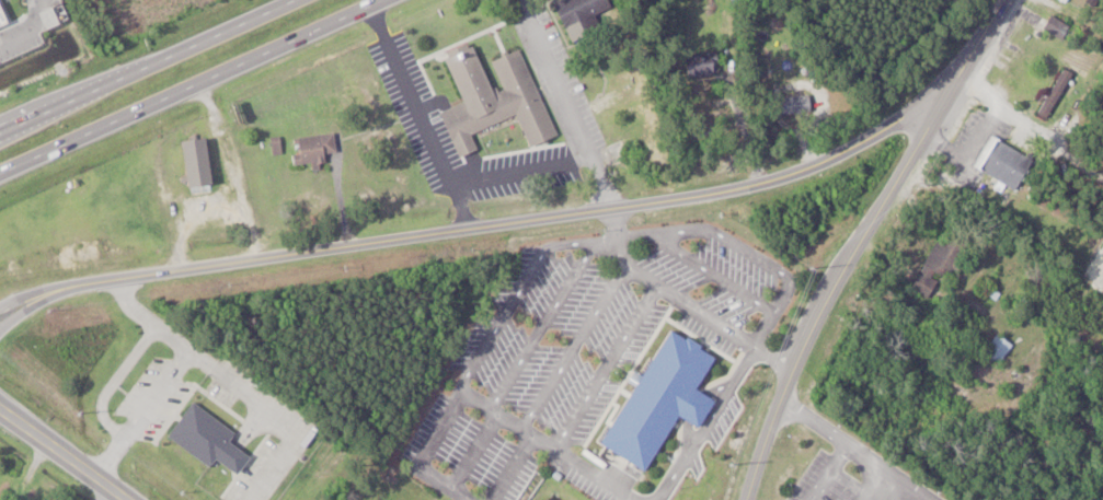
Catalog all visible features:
building: (1068, 0)
road: (39, 5)
building: (577, 14)
building: (1060, 26)
road: (22, 28)
road: (140, 62)
building: (696, 62)
building: (711, 62)
road: (184, 80)
building: (1058, 93)
building: (493, 97)
building: (795, 103)
road: (1030, 125)
building: (275, 144)
building: (313, 150)
building: (193, 158)
building: (1009, 163)
road: (481, 224)
road: (854, 241)
building: (942, 261)
building: (1000, 347)
building: (660, 396)
building: (206, 437)
road: (838, 439)
road: (61, 455)

